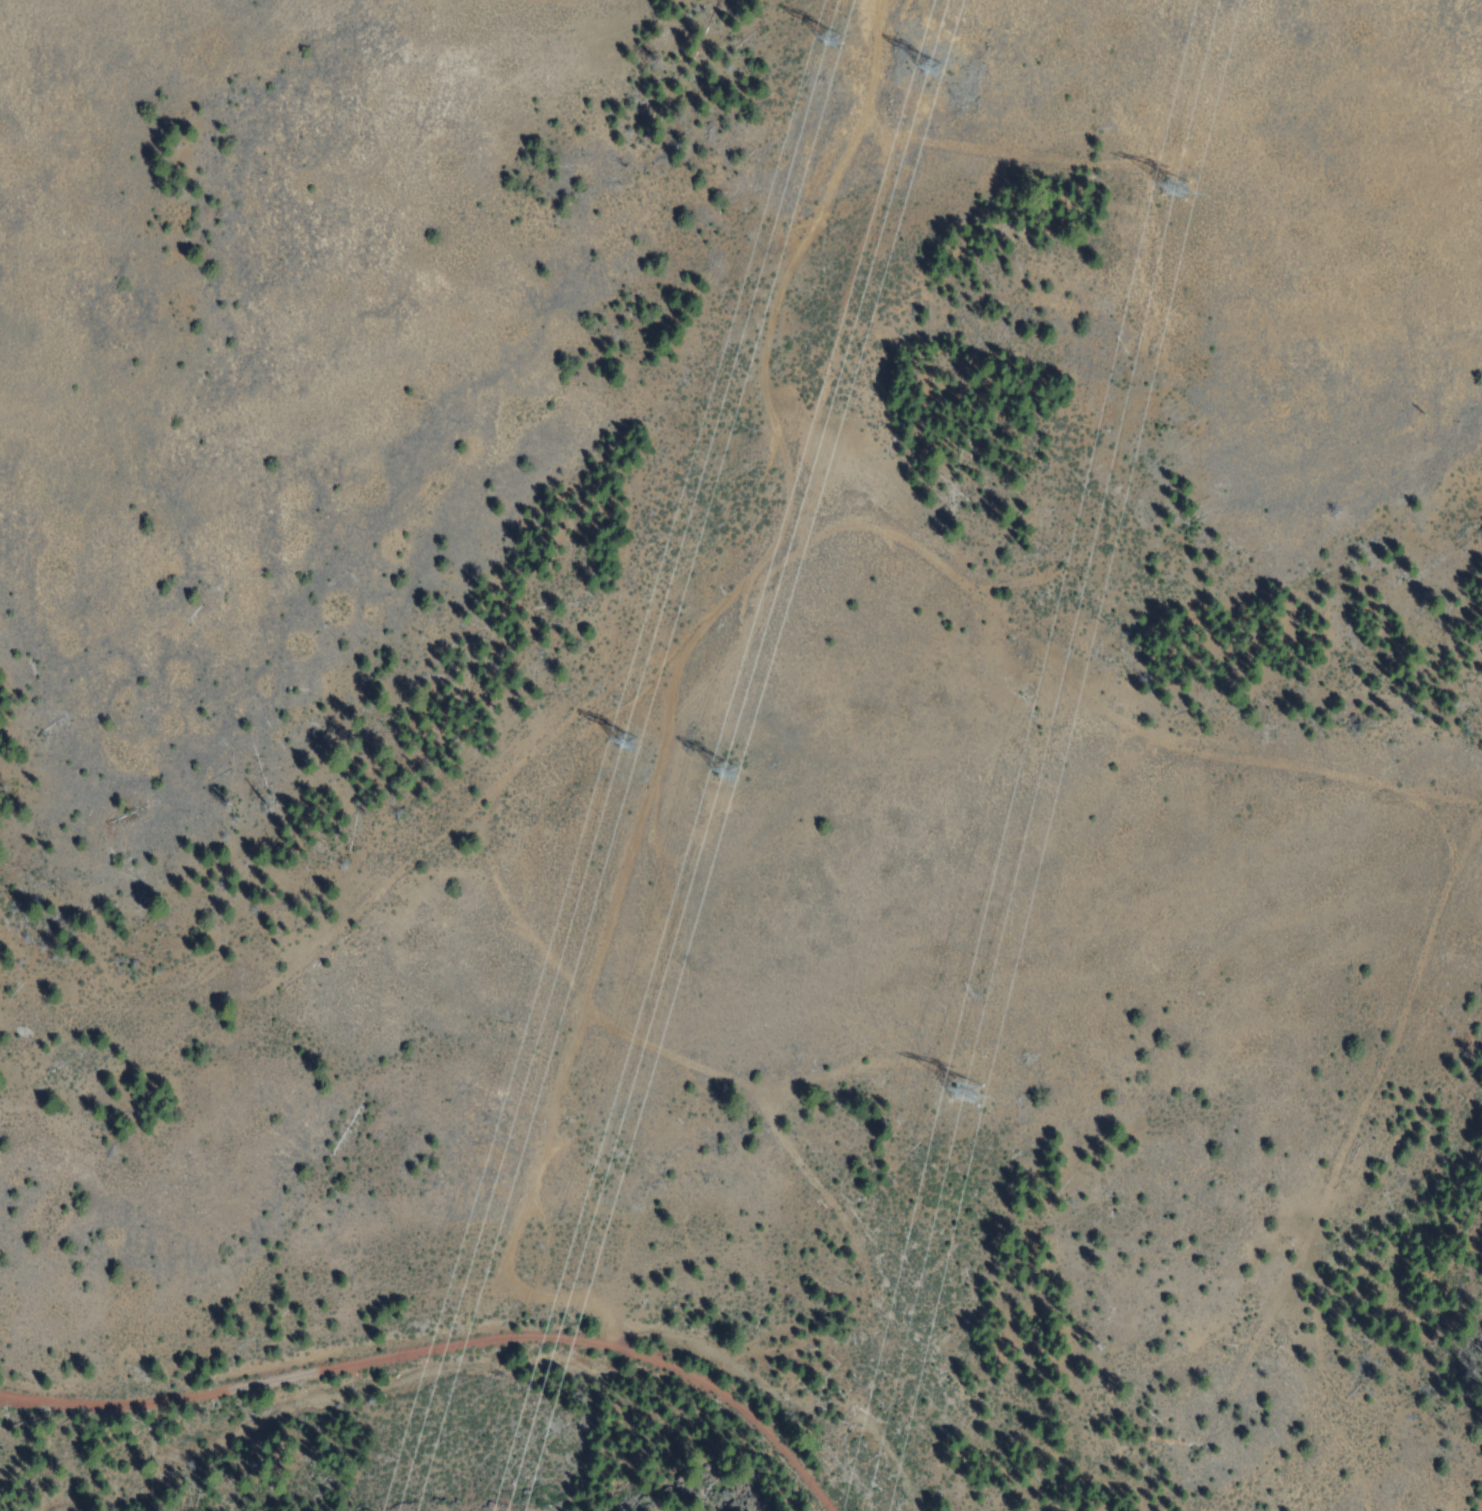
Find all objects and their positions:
power tower: (826, 38)
power tower: (919, 60)
power tower: (1171, 193)
power tower: (619, 737)
power tower: (724, 765)
power tower: (969, 1110)

